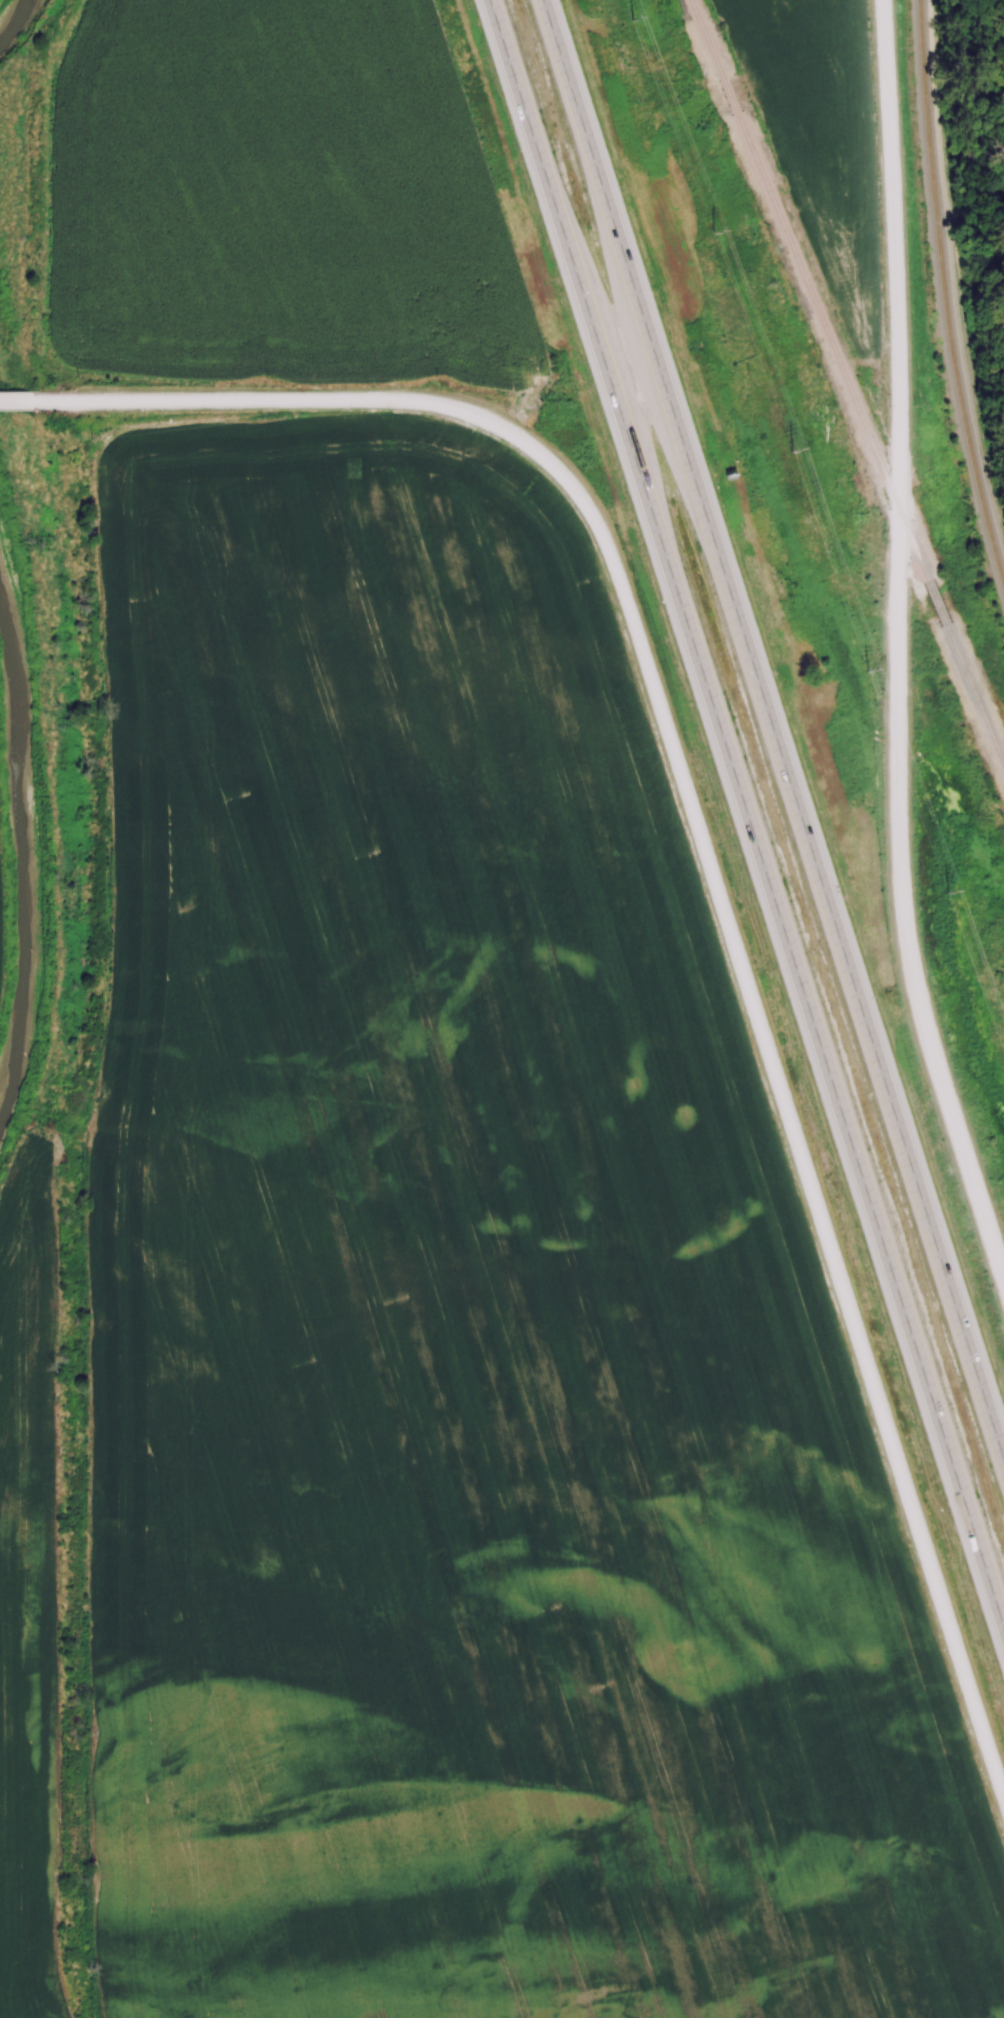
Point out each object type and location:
river: (8, 10)
power tower: (635, 18)
power tower: (715, 230)
railway: (808, 288)
railway: (946, 291)
road: (24, 402)
power tower: (794, 448)
railway: (936, 601)
road: (897, 647)
power tower: (870, 668)
railway: (974, 695)
road: (773, 728)
road: (745, 815)
river: (24, 847)
road: (712, 875)
power tower: (950, 890)

